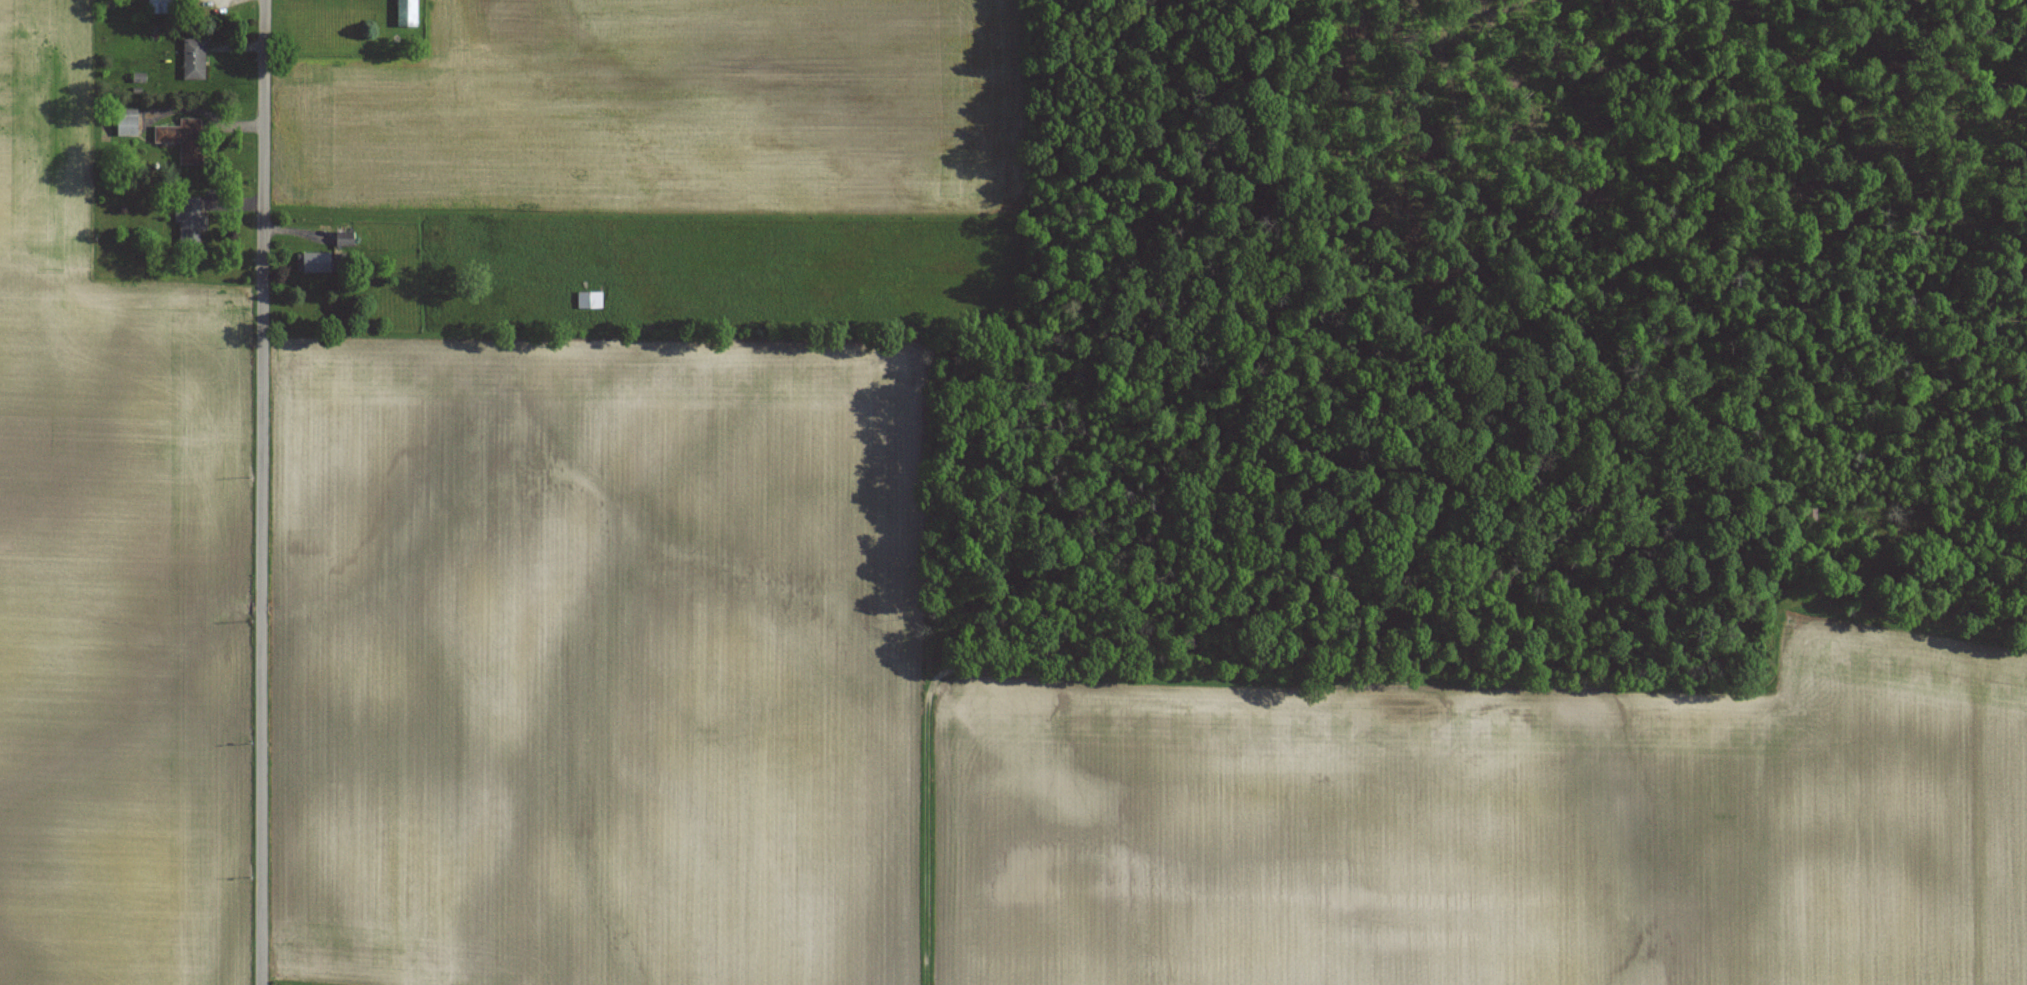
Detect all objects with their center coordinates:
building: (160, 6)
building: (406, 13)
building: (193, 59)
building: (126, 122)
building: (183, 139)
building: (190, 220)
building: (315, 262)
building: (589, 300)
road: (262, 492)
building: (1810, 513)

